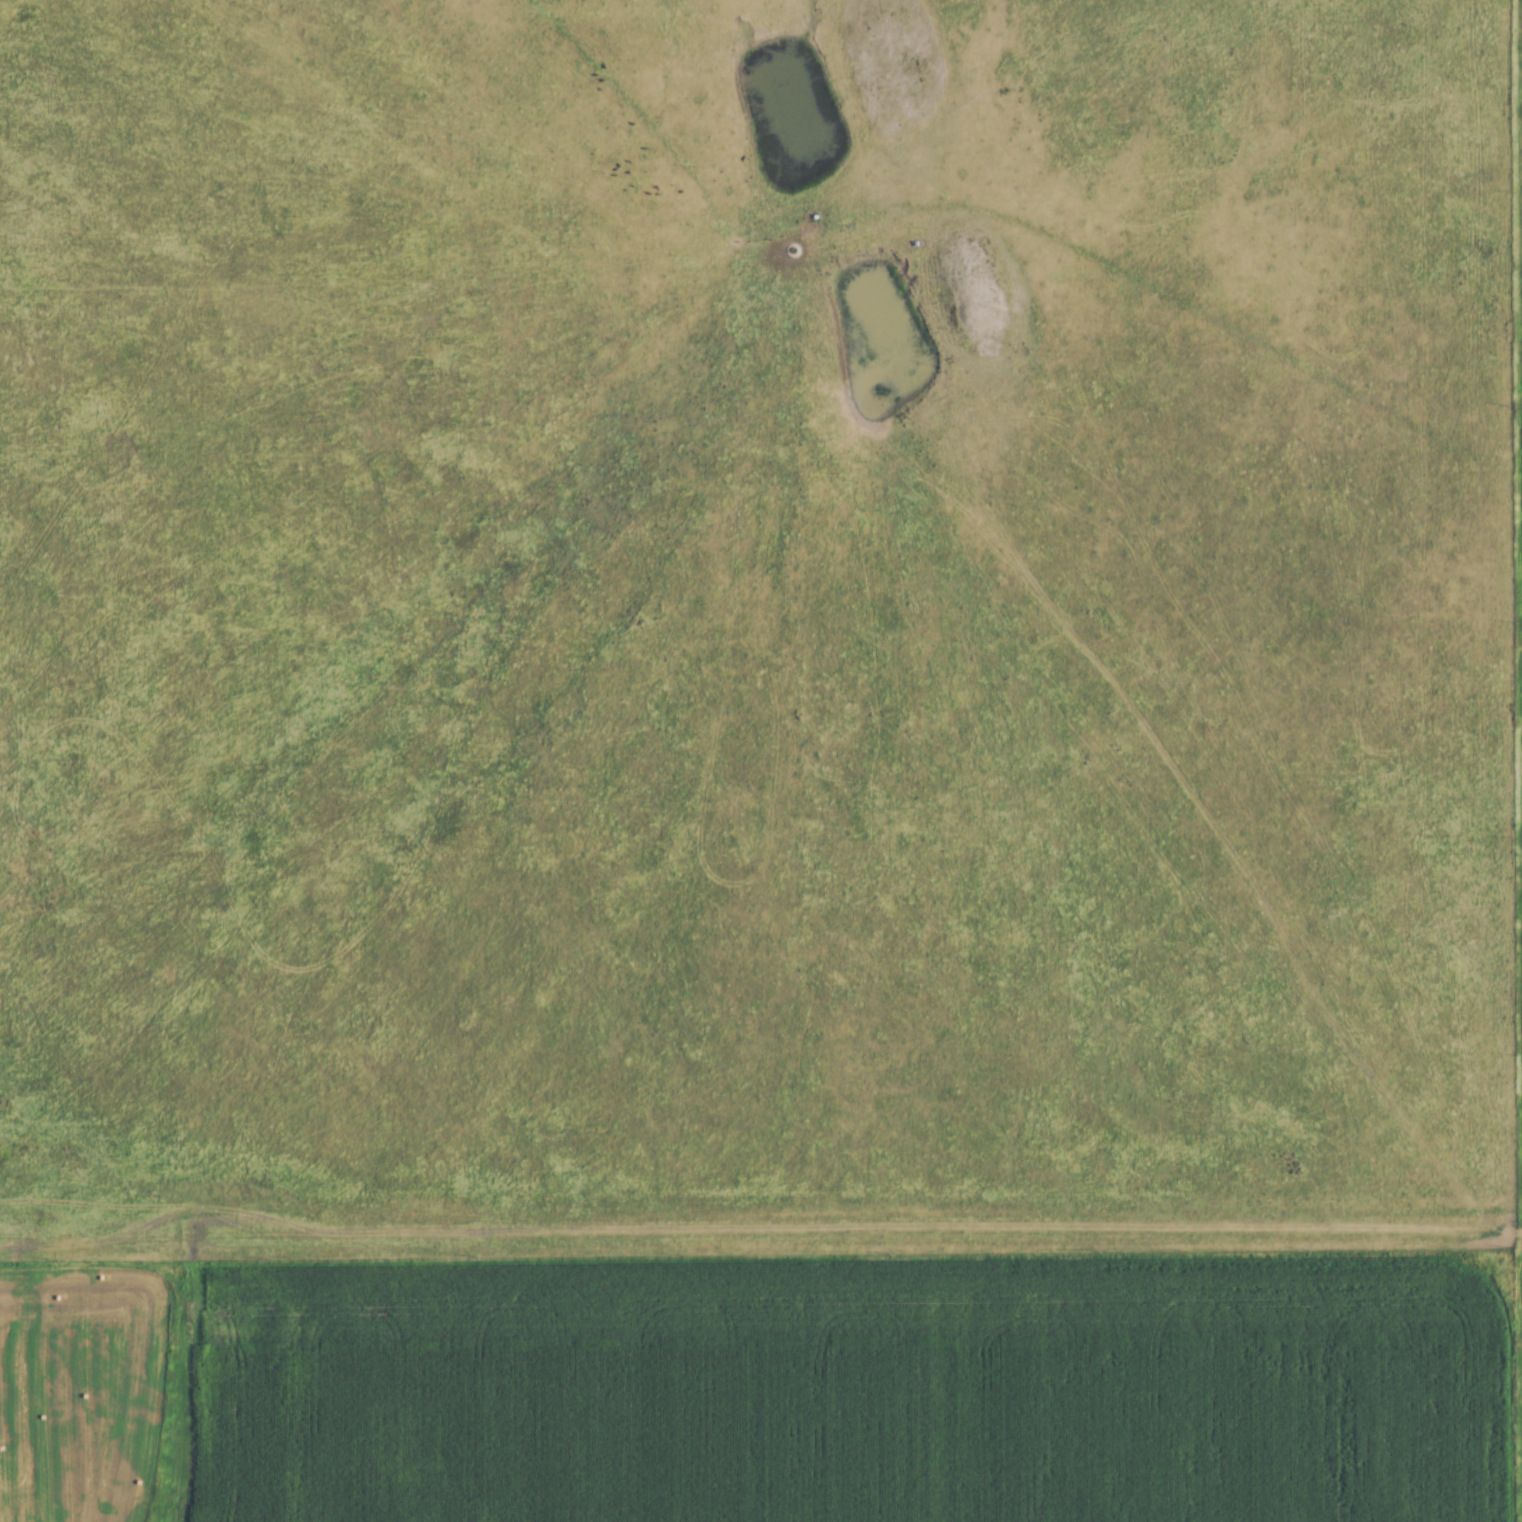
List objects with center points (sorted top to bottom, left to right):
building: (1113, 1375)

